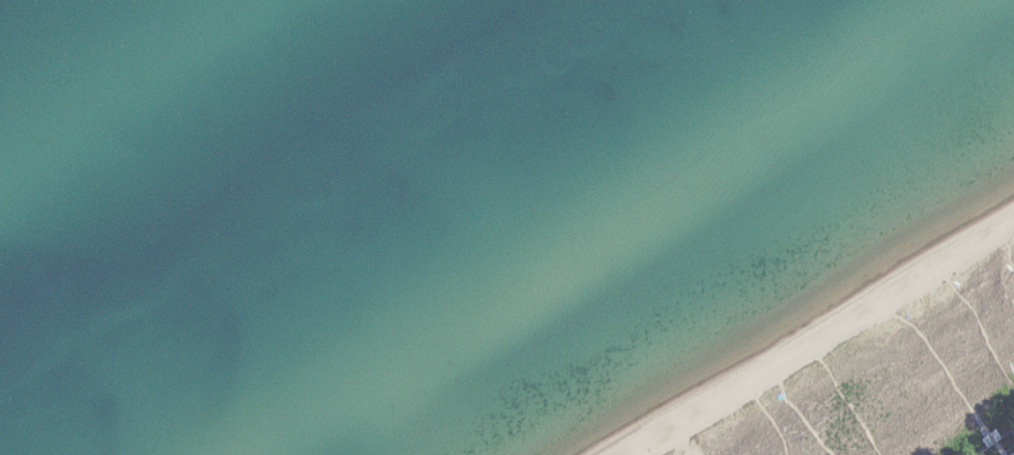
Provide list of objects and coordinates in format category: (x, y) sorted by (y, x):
road: (1006, 252)
road: (986, 330)
road: (947, 370)
road: (850, 406)
road: (806, 422)
road: (775, 425)
road: (692, 447)

